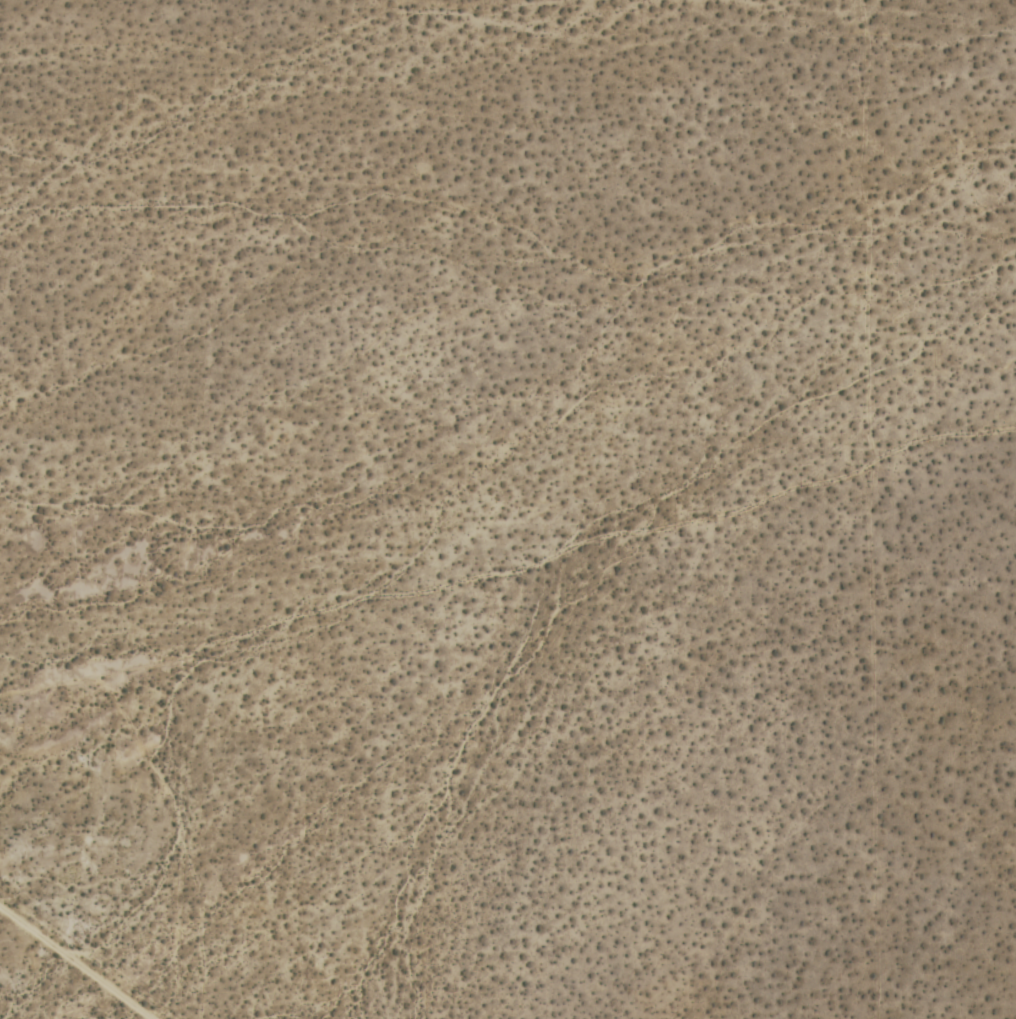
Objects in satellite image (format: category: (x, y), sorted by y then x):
road: (75, 963)

